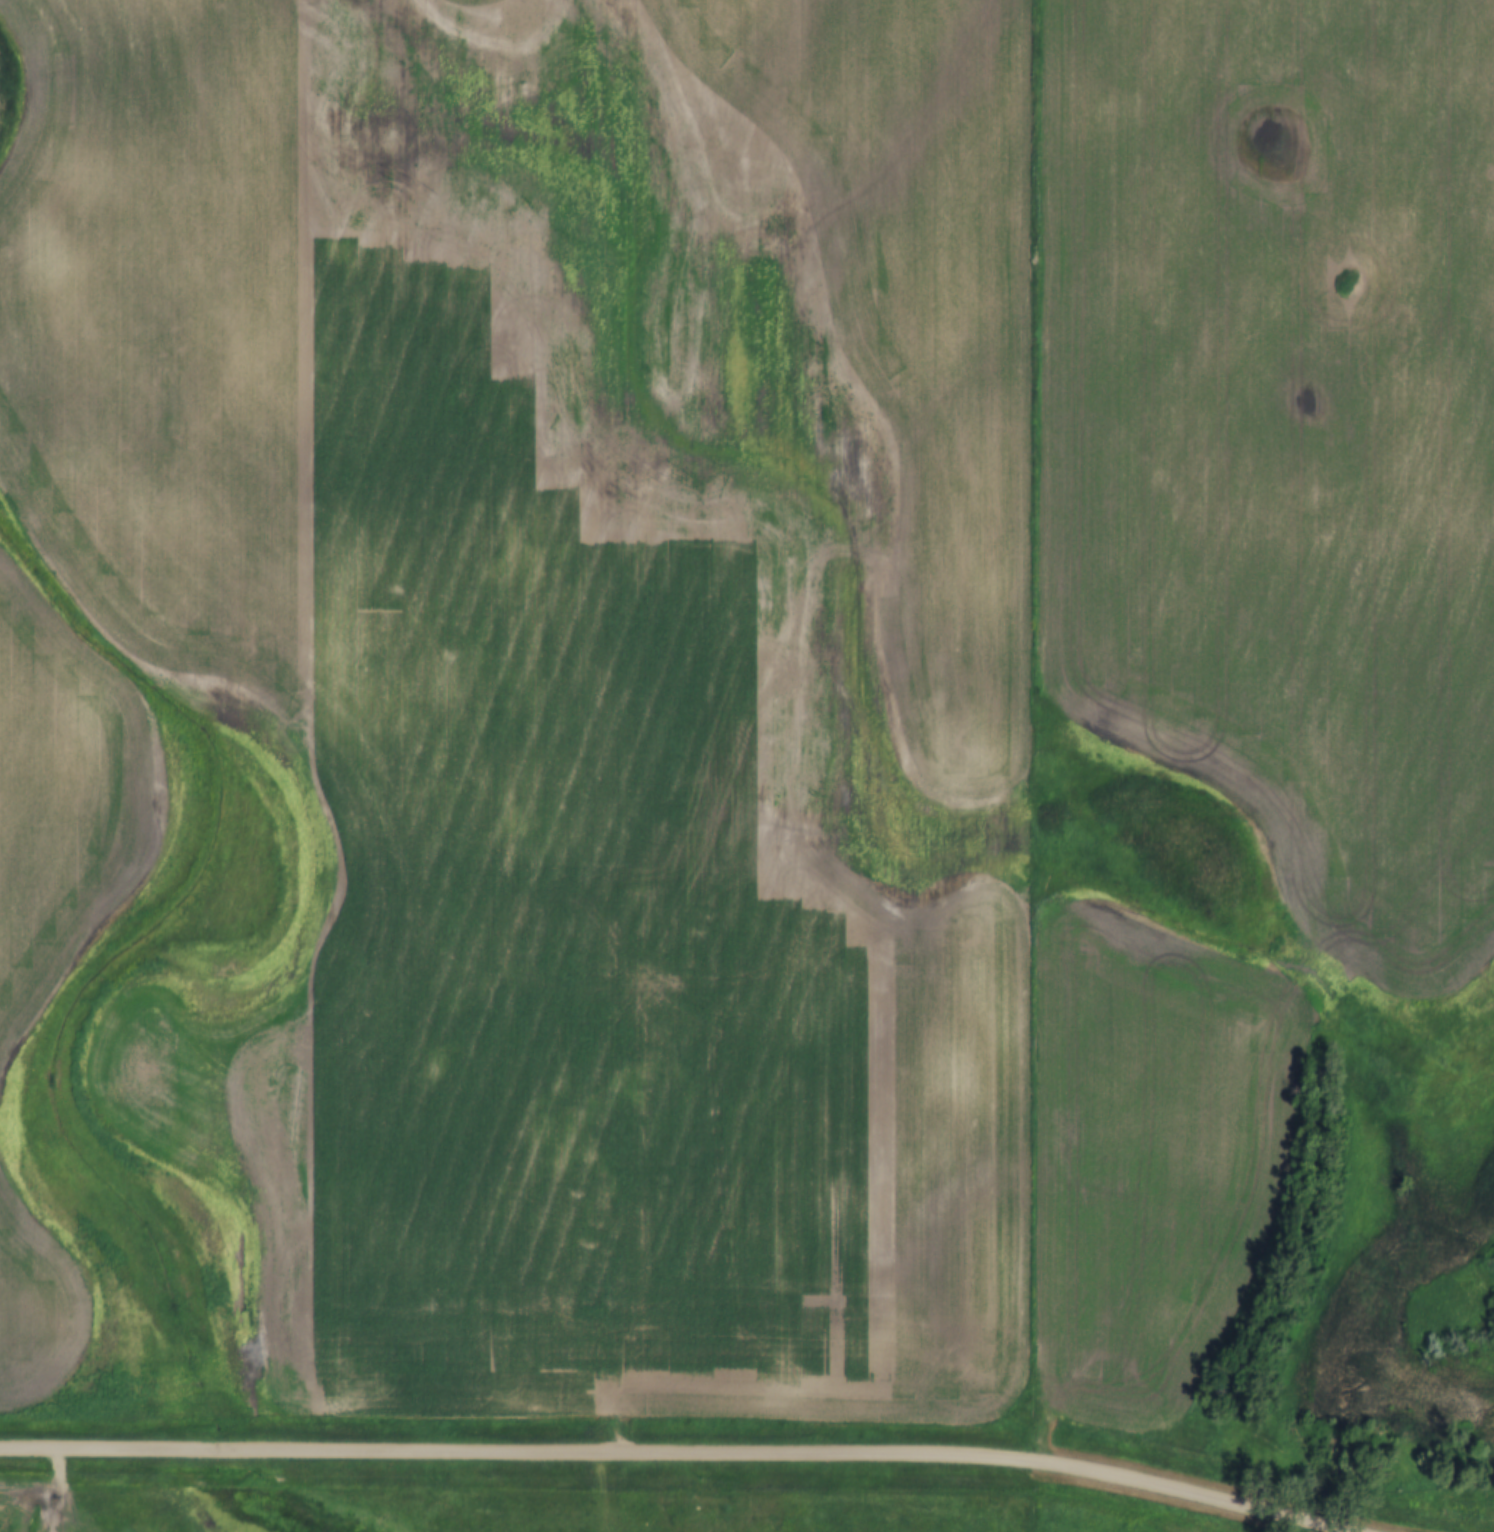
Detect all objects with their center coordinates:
road: (680, 1453)

